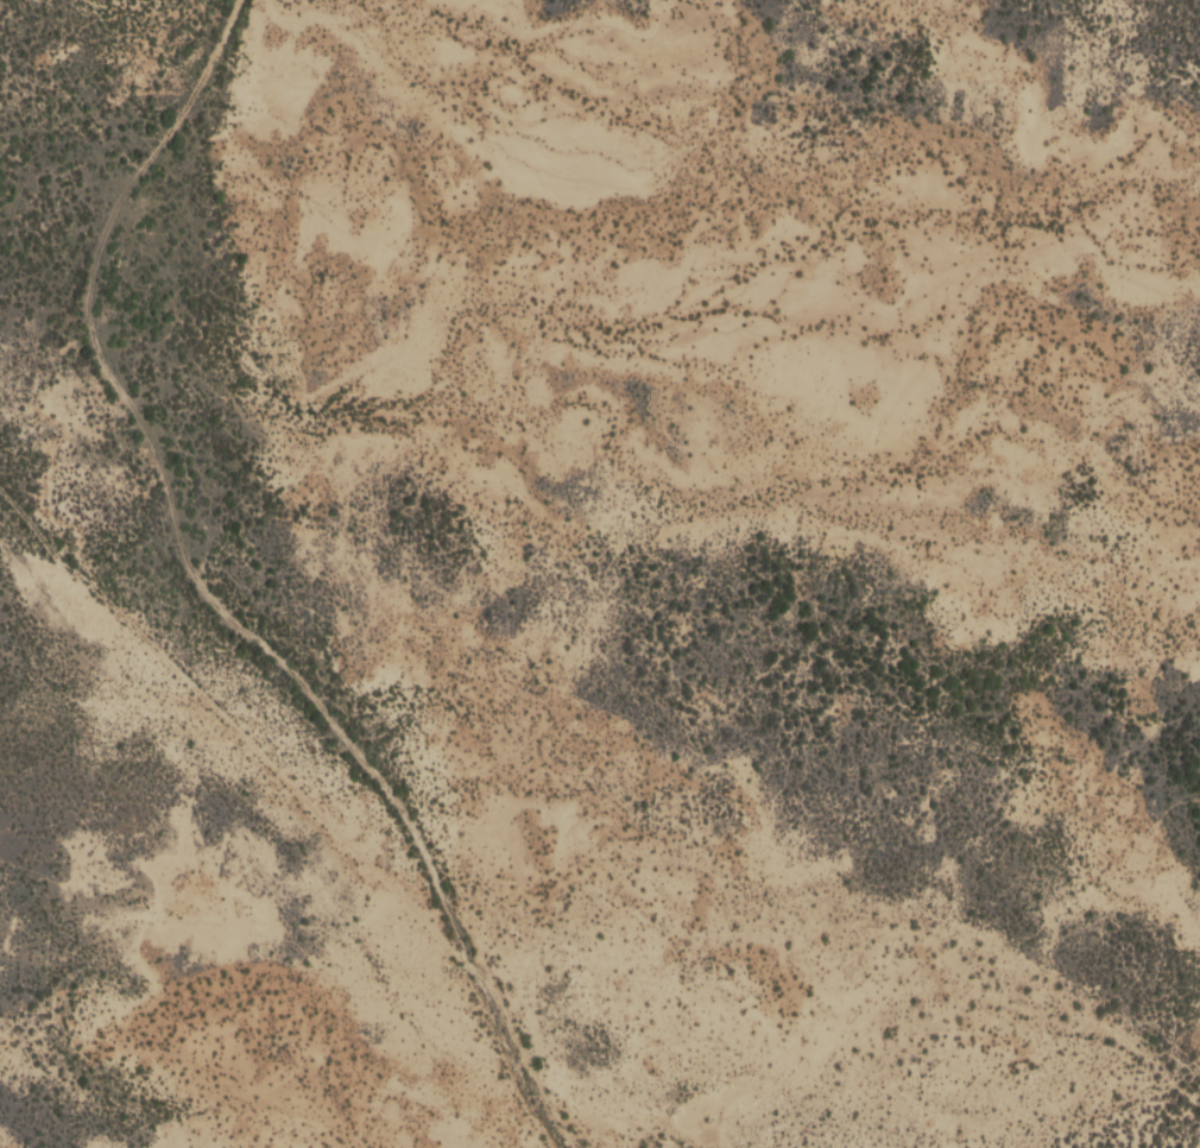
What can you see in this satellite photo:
road: (115, 194)
road: (361, 686)

